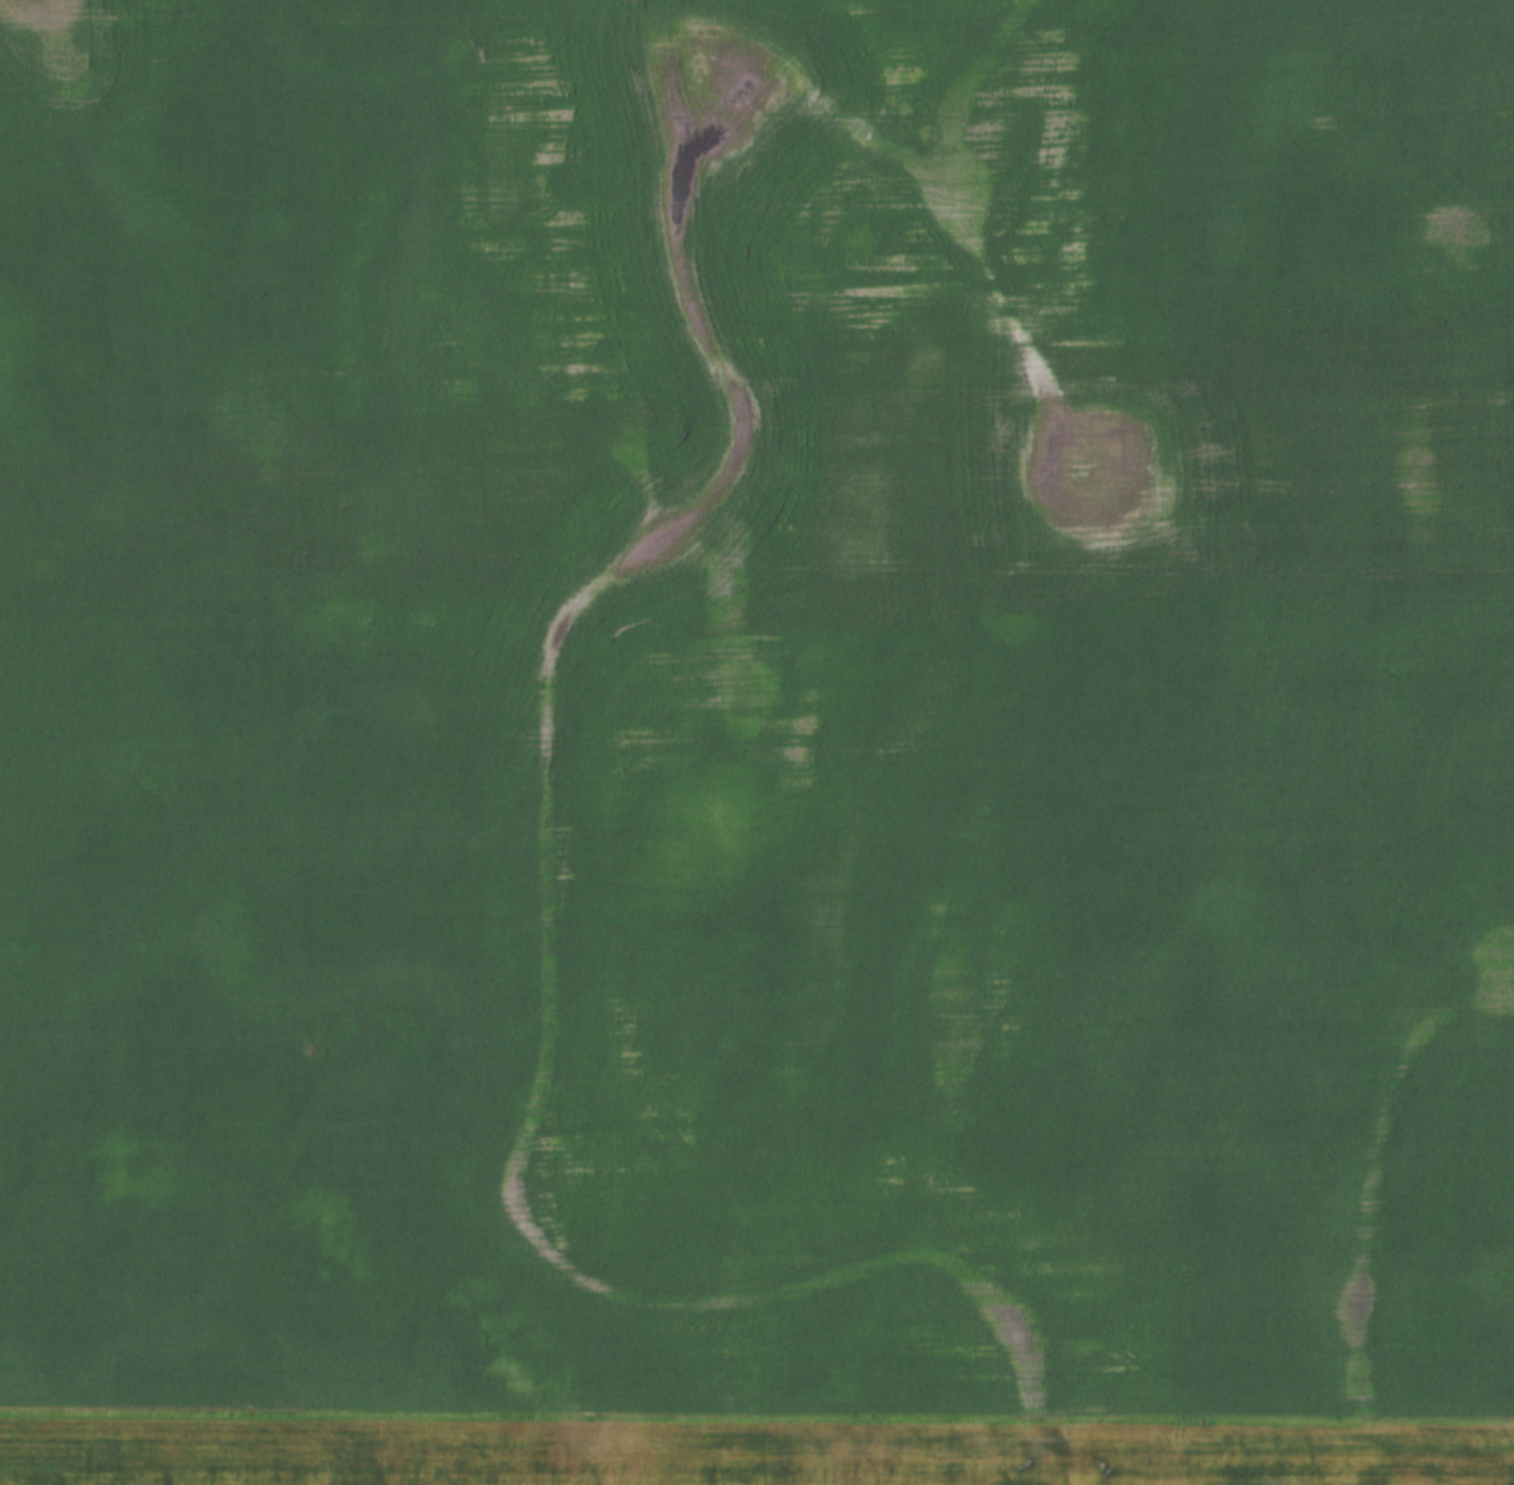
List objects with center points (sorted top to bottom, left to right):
road: (756, 1420)

